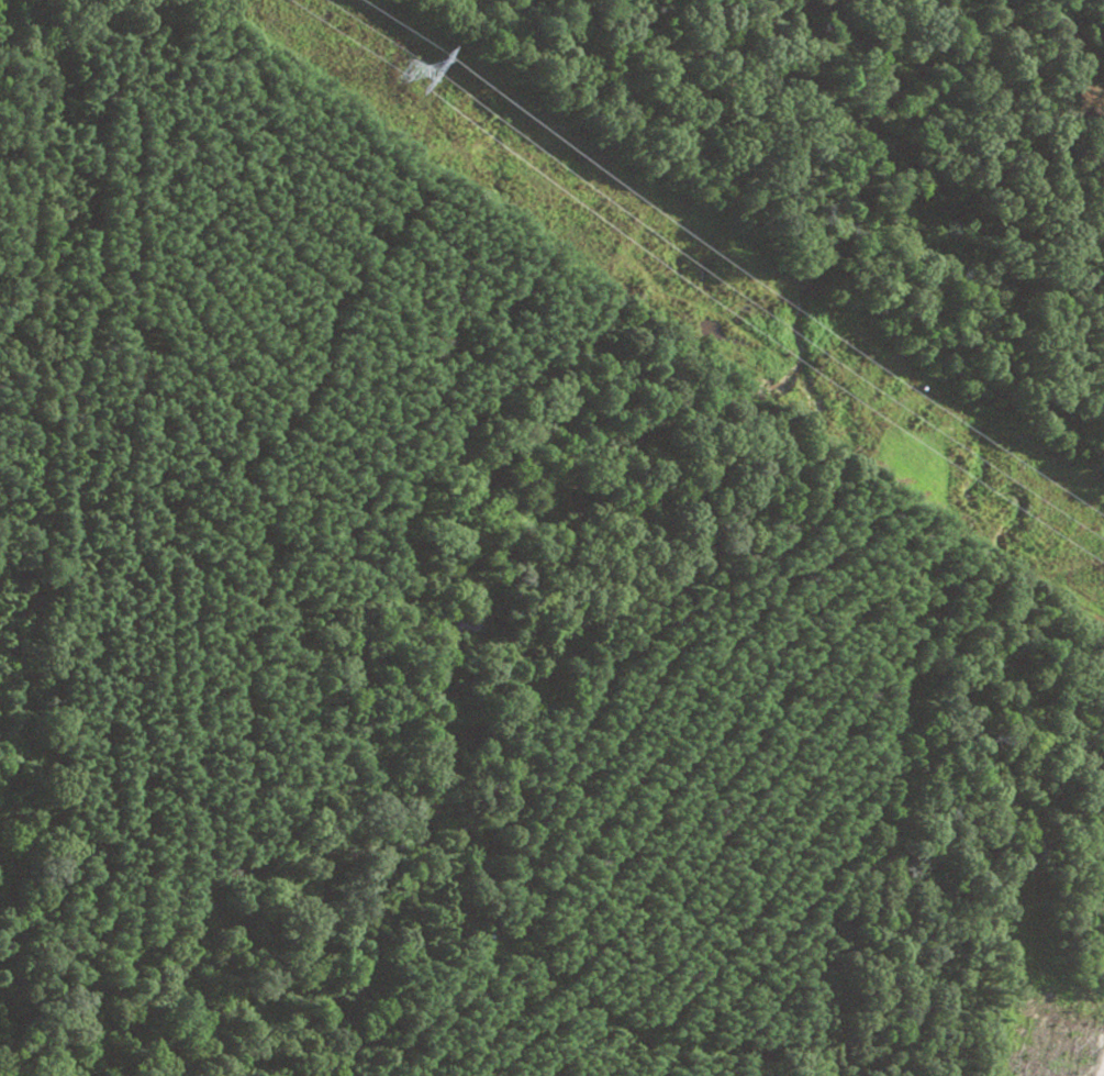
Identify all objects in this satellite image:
power tower: (392, 71)

